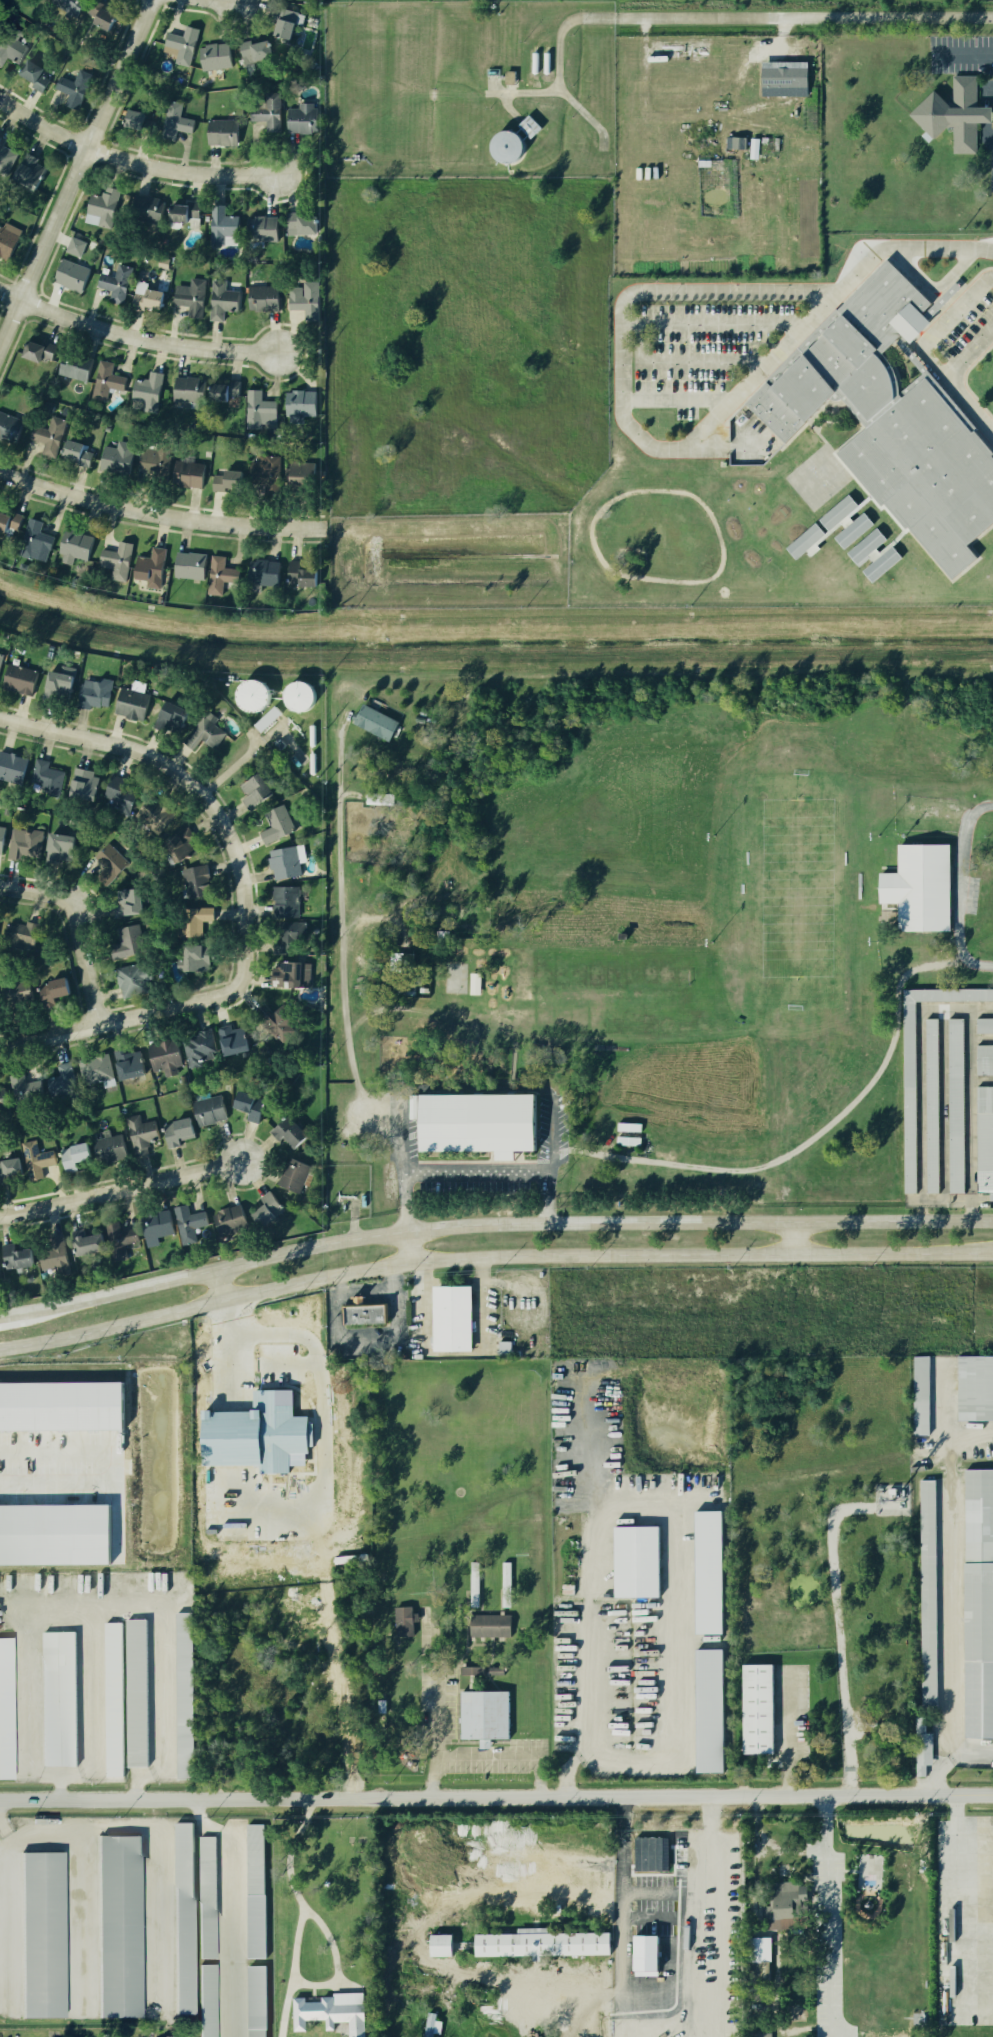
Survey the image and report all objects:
building: (70, 6)
road: (744, 18)
building: (103, 19)
building: (280, 28)
road: (779, 38)
building: (180, 44)
building: (250, 48)
parking lot: (961, 54)
road: (968, 54)
building: (8, 55)
building: (215, 55)
building: (36, 75)
building: (784, 79)
building: (73, 85)
road: (558, 90)
road: (983, 92)
road: (507, 106)
building: (266, 111)
building: (953, 113)
building: (130, 117)
building: (301, 118)
building: (175, 119)
building: (527, 126)
road: (985, 131)
building: (219, 132)
building: (735, 142)
building: (505, 147)
building: (5, 157)
road: (131, 159)
road: (74, 170)
parking lot: (991, 170)
building: (26, 171)
building: (94, 207)
building: (143, 209)
building: (182, 216)
building: (216, 224)
building: (300, 225)
building: (257, 228)
building: (6, 243)
building: (74, 246)
road: (904, 246)
road: (885, 257)
building: (70, 275)
road: (972, 278)
building: (115, 279)
road: (990, 279)
flagpole: (960, 282)
road: (935, 286)
building: (146, 294)
building: (302, 296)
building: (189, 298)
building: (263, 299)
building: (221, 302)
road: (950, 315)
road: (713, 323)
parking lot: (966, 326)
road: (753, 327)
road: (761, 327)
road: (135, 335)
road: (753, 336)
road: (761, 336)
road: (934, 338)
road: (641, 341)
road: (758, 342)
parking lot: (700, 346)
road: (754, 348)
building: (37, 351)
road: (777, 351)
road: (968, 355)
road: (754, 357)
road: (702, 360)
building: (73, 365)
road: (964, 380)
building: (105, 381)
building: (182, 389)
building: (148, 390)
building: (222, 390)
road: (623, 394)
road: (957, 396)
building: (299, 400)
road: (675, 400)
road: (745, 401)
road: (838, 403)
building: (258, 408)
road: (836, 413)
road: (836, 421)
building: (890, 421)
road: (805, 424)
building: (9, 425)
building: (45, 433)
road: (820, 437)
road: (721, 446)
building: (76, 450)
building: (115, 455)
building: (153, 460)
building: (264, 469)
building: (187, 474)
building: (296, 474)
park: (817, 478)
building: (220, 480)
building: (835, 510)
road: (161, 512)
building: (2, 519)
building: (13, 521)
building: (853, 530)
building: (32, 539)
building: (803, 539)
building: (865, 545)
building: (74, 546)
road: (595, 549)
building: (116, 561)
building: (881, 563)
building: (189, 566)
building: (148, 568)
building: (261, 570)
building: (215, 574)
building: (299, 575)
road: (957, 576)
building: (1, 657)
building: (17, 678)
building: (55, 686)
building: (249, 693)
building: (92, 694)
building: (295, 695)
building: (126, 704)
building: (164, 717)
building: (266, 718)
building: (418, 718)
building: (373, 720)
building: (203, 733)
building: (278, 743)
building: (11, 767)
building: (46, 779)
building: (81, 785)
road: (199, 787)
building: (296, 787)
building: (250, 791)
building: (114, 793)
building: (379, 798)
building: (297, 807)
building: (154, 813)
building: (274, 824)
building: (2, 834)
building: (23, 843)
building: (174, 846)
building: (56, 848)
building: (107, 860)
building: (283, 862)
road: (957, 870)
building: (194, 881)
building: (918, 886)
building: (125, 901)
building: (283, 901)
building: (190, 921)
road: (83, 922)
road: (340, 924)
building: (22, 932)
building: (288, 937)
building: (126, 941)
building: (193, 958)
building: (405, 961)
road: (975, 963)
building: (423, 967)
building: (286, 975)
building: (130, 980)
building: (472, 983)
building: (404, 984)
building: (17, 992)
building: (53, 993)
road: (122, 1017)
building: (277, 1020)
building: (985, 1025)
building: (233, 1040)
building: (201, 1048)
building: (166, 1056)
building: (984, 1059)
building: (131, 1063)
building: (97, 1069)
building: (65, 1086)
building: (24, 1091)
building: (3, 1097)
building: (910, 1097)
building: (250, 1105)
building: (411, 1106)
building: (933, 1106)
building: (957, 1106)
building: (210, 1109)
building: (478, 1124)
building: (630, 1127)
building: (180, 1131)
building: (290, 1132)
building: (142, 1134)
road: (403, 1134)
road: (553, 1139)
building: (985, 1139)
building: (629, 1141)
road: (807, 1141)
building: (111, 1149)
building: (76, 1156)
building: (37, 1159)
building: (10, 1170)
road: (479, 1171)
building: (296, 1175)
road: (121, 1189)
road: (549, 1199)
road: (404, 1204)
building: (268, 1210)
building: (231, 1220)
building: (189, 1223)
building: (157, 1227)
road: (491, 1229)
building: (120, 1239)
road: (796, 1241)
building: (89, 1244)
building: (55, 1253)
building: (17, 1257)
road: (707, 1257)
building: (0, 1277)
road: (368, 1290)
road: (423, 1292)
road: (481, 1306)
road: (211, 1307)
building: (365, 1314)
building: (453, 1319)
building: (281, 1335)
building: (508, 1350)
road: (452, 1354)
building: (976, 1388)
building: (922, 1396)
building: (254, 1398)
building: (60, 1405)
building: (239, 1418)
building: (333, 1468)
building: (250, 1503)
road: (658, 1506)
building: (54, 1534)
road: (280, 1542)
building: (637, 1561)
building: (709, 1572)
building: (475, 1584)
building: (507, 1584)
building: (929, 1592)
road: (329, 1596)
building: (979, 1604)
road: (61, 1609)
building: (405, 1620)
building: (491, 1625)
road: (837, 1633)
building: (472, 1670)
road: (162, 1673)
building: (137, 1693)
building: (185, 1695)
building: (60, 1698)
building: (114, 1700)
parking lot: (438, 1703)
building: (382, 1706)
building: (759, 1709)
parking lot: (791, 1709)
building: (7, 1710)
building: (711, 1710)
building: (485, 1717)
road: (435, 1740)
building: (923, 1747)
road: (485, 1758)
road: (950, 1759)
road: (540, 1777)
road: (59, 1788)
road: (496, 1797)
road: (957, 1805)
road: (825, 1826)
building: (648, 1853)
building: (256, 1859)
road: (755, 1874)
road: (692, 1877)
road: (78, 1881)
building: (208, 1897)
building: (785, 1904)
road: (231, 1908)
road: (832, 1909)
road: (303, 1915)
building: (185, 1919)
parking lot: (965, 1920)
building: (257, 1926)
building: (121, 1927)
building: (44, 1935)
building: (542, 1943)
building: (442, 1945)
building: (760, 1949)
road: (336, 1962)
building: (438, 1965)
road: (621, 1968)
building: (765, 1971)
building: (257, 1997)
building: (209, 2001)
building: (333, 2012)
building: (797, 2013)
building: (433, 2025)
building: (257, 2033)
building: (759, 2035)
building: (174, 2036)

